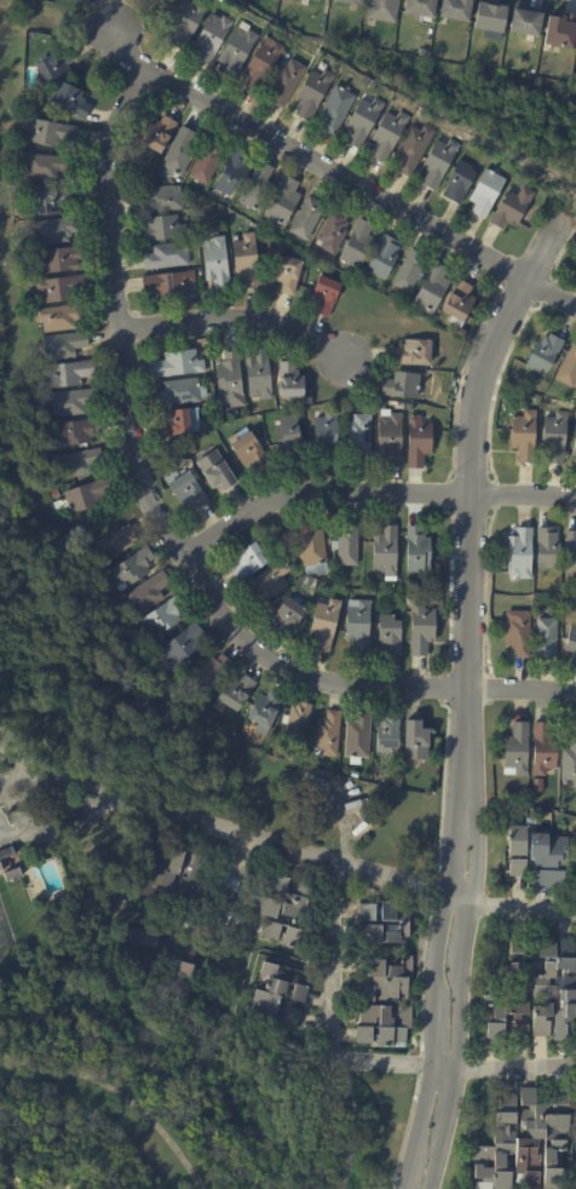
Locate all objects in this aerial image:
building: (74, 1)
building: (312, 1)
building: (347, 2)
building: (417, 8)
building: (454, 10)
building: (381, 11)
building: (489, 19)
building: (186, 21)
building: (524, 23)
building: (561, 33)
building: (211, 36)
building: (237, 50)
building: (263, 63)
building: (52, 65)
building: (286, 81)
building: (311, 92)
building: (68, 99)
building: (334, 108)
building: (362, 120)
building: (48, 131)
building: (156, 134)
building: (387, 134)
building: (413, 148)
building: (177, 154)
building: (132, 156)
building: (206, 162)
building: (438, 162)
building: (46, 165)
building: (231, 172)
road: (339, 176)
building: (459, 182)
building: (257, 186)
building: (13, 189)
building: (485, 193)
building: (50, 200)
building: (159, 200)
building: (281, 201)
building: (512, 208)
building: (305, 218)
building: (159, 228)
building: (53, 230)
building: (332, 231)
building: (357, 245)
building: (166, 255)
building: (384, 257)
building: (58, 258)
building: (246, 258)
building: (214, 262)
building: (409, 270)
building: (287, 274)
building: (168, 283)
building: (61, 287)
building: (431, 287)
building: (326, 295)
building: (459, 301)
building: (58, 317)
road: (237, 324)
building: (62, 345)
building: (413, 352)
building: (543, 354)
building: (177, 363)
building: (568, 368)
building: (65, 373)
building: (258, 374)
building: (229, 379)
building: (289, 380)
building: (399, 385)
building: (179, 394)
building: (69, 402)
building: (409, 407)
building: (267, 415)
building: (177, 423)
building: (73, 431)
building: (326, 436)
building: (358, 436)
building: (524, 436)
building: (388, 437)
building: (554, 437)
building: (287, 438)
building: (259, 440)
building: (417, 442)
building: (574, 448)
building: (191, 450)
building: (248, 450)
building: (76, 463)
building: (575, 466)
building: (214, 470)
building: (185, 489)
building: (53, 494)
building: (86, 495)
road: (373, 495)
road: (468, 505)
road: (172, 525)
building: (266, 530)
building: (281, 534)
building: (113, 544)
building: (346, 545)
building: (311, 547)
building: (547, 547)
building: (416, 551)
building: (385, 552)
building: (570, 552)
building: (519, 555)
building: (246, 562)
building: (131, 568)
building: (437, 576)
building: (98, 581)
building: (269, 582)
building: (145, 593)
building: (396, 597)
building: (568, 607)
building: (162, 618)
building: (286, 619)
building: (326, 625)
building: (358, 626)
building: (420, 628)
building: (518, 633)
building: (390, 636)
building: (547, 638)
building: (571, 644)
building: (178, 648)
building: (206, 676)
building: (234, 693)
building: (263, 711)
building: (295, 723)
building: (386, 731)
building: (328, 735)
building: (356, 735)
building: (234, 736)
building: (413, 737)
building: (517, 749)
building: (542, 749)
road: (11, 751)
building: (289, 758)
building: (569, 763)
road: (10, 772)
building: (353, 775)
road: (64, 777)
building: (397, 783)
road: (56, 791)
road: (345, 818)
road: (58, 832)
road: (288, 846)
building: (515, 850)
building: (548, 861)
building: (8, 866)
building: (171, 877)
road: (235, 878)
road: (523, 906)
building: (281, 913)
building: (382, 924)
park: (4, 940)
building: (184, 959)
building: (535, 994)
building: (276, 998)
road: (457, 1000)
road: (434, 1003)
building: (385, 1006)
road: (328, 1022)
road: (517, 1067)
road: (117, 1093)
road: (352, 1120)
building: (526, 1142)

